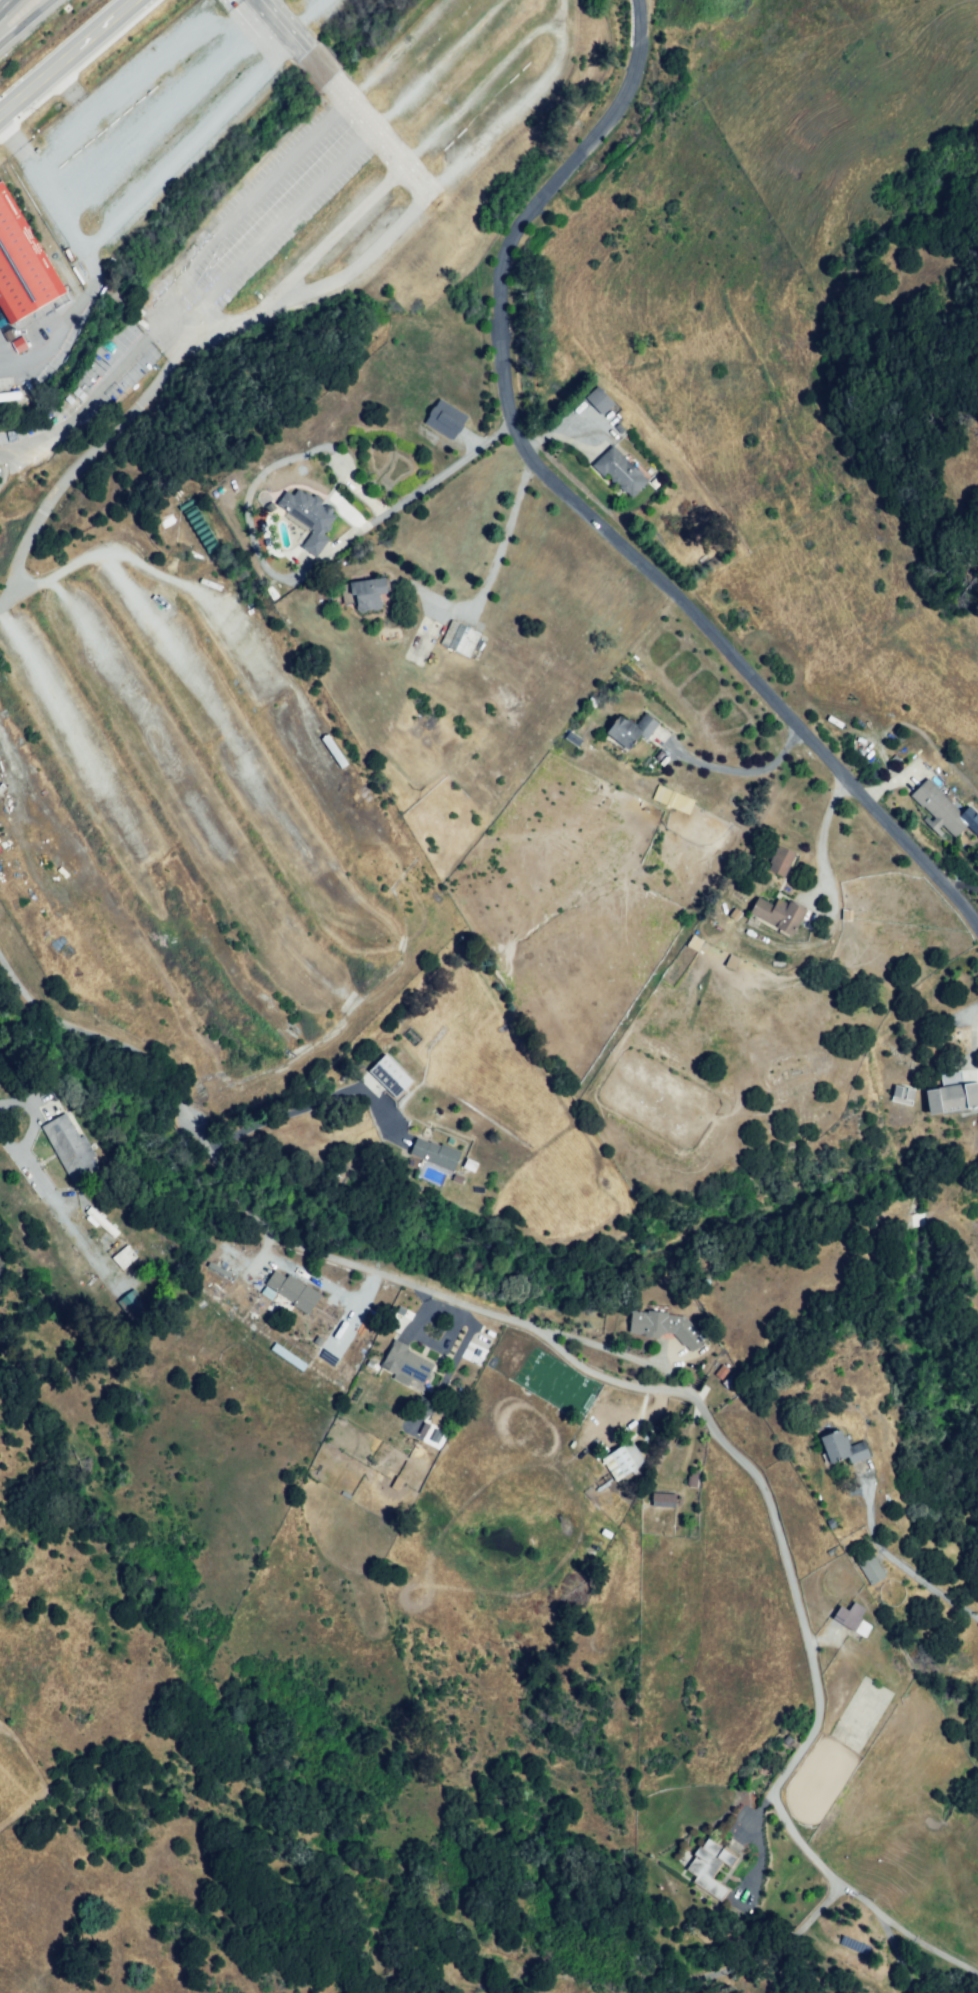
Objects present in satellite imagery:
road: (8, 8)
road: (24, 17)
road: (278, 28)
road: (68, 62)
road: (316, 72)
road: (383, 147)
building: (22, 264)
building: (4, 396)
building: (599, 400)
building: (447, 417)
building: (619, 470)
road: (584, 509)
building: (309, 516)
road: (339, 550)
building: (368, 594)
building: (422, 636)
building: (461, 639)
building: (647, 724)
building: (621, 734)
road: (745, 772)
building: (673, 800)
building: (479, 806)
building: (939, 807)
road: (822, 845)
building: (779, 863)
building: (976, 868)
building: (780, 915)
building: (385, 1078)
building: (903, 1093)
building: (953, 1097)
road: (278, 1120)
building: (68, 1146)
building: (434, 1153)
building: (102, 1221)
building: (126, 1257)
building: (294, 1292)
building: (131, 1303)
building: (666, 1327)
road: (586, 1345)
building: (405, 1364)
building: (430, 1434)
building: (841, 1447)
building: (622, 1461)
building: (694, 1477)
building: (664, 1500)
road: (903, 1568)
building: (870, 1569)
building: (848, 1615)
building: (708, 1866)
road: (936, 1951)
road: (765, 1952)

